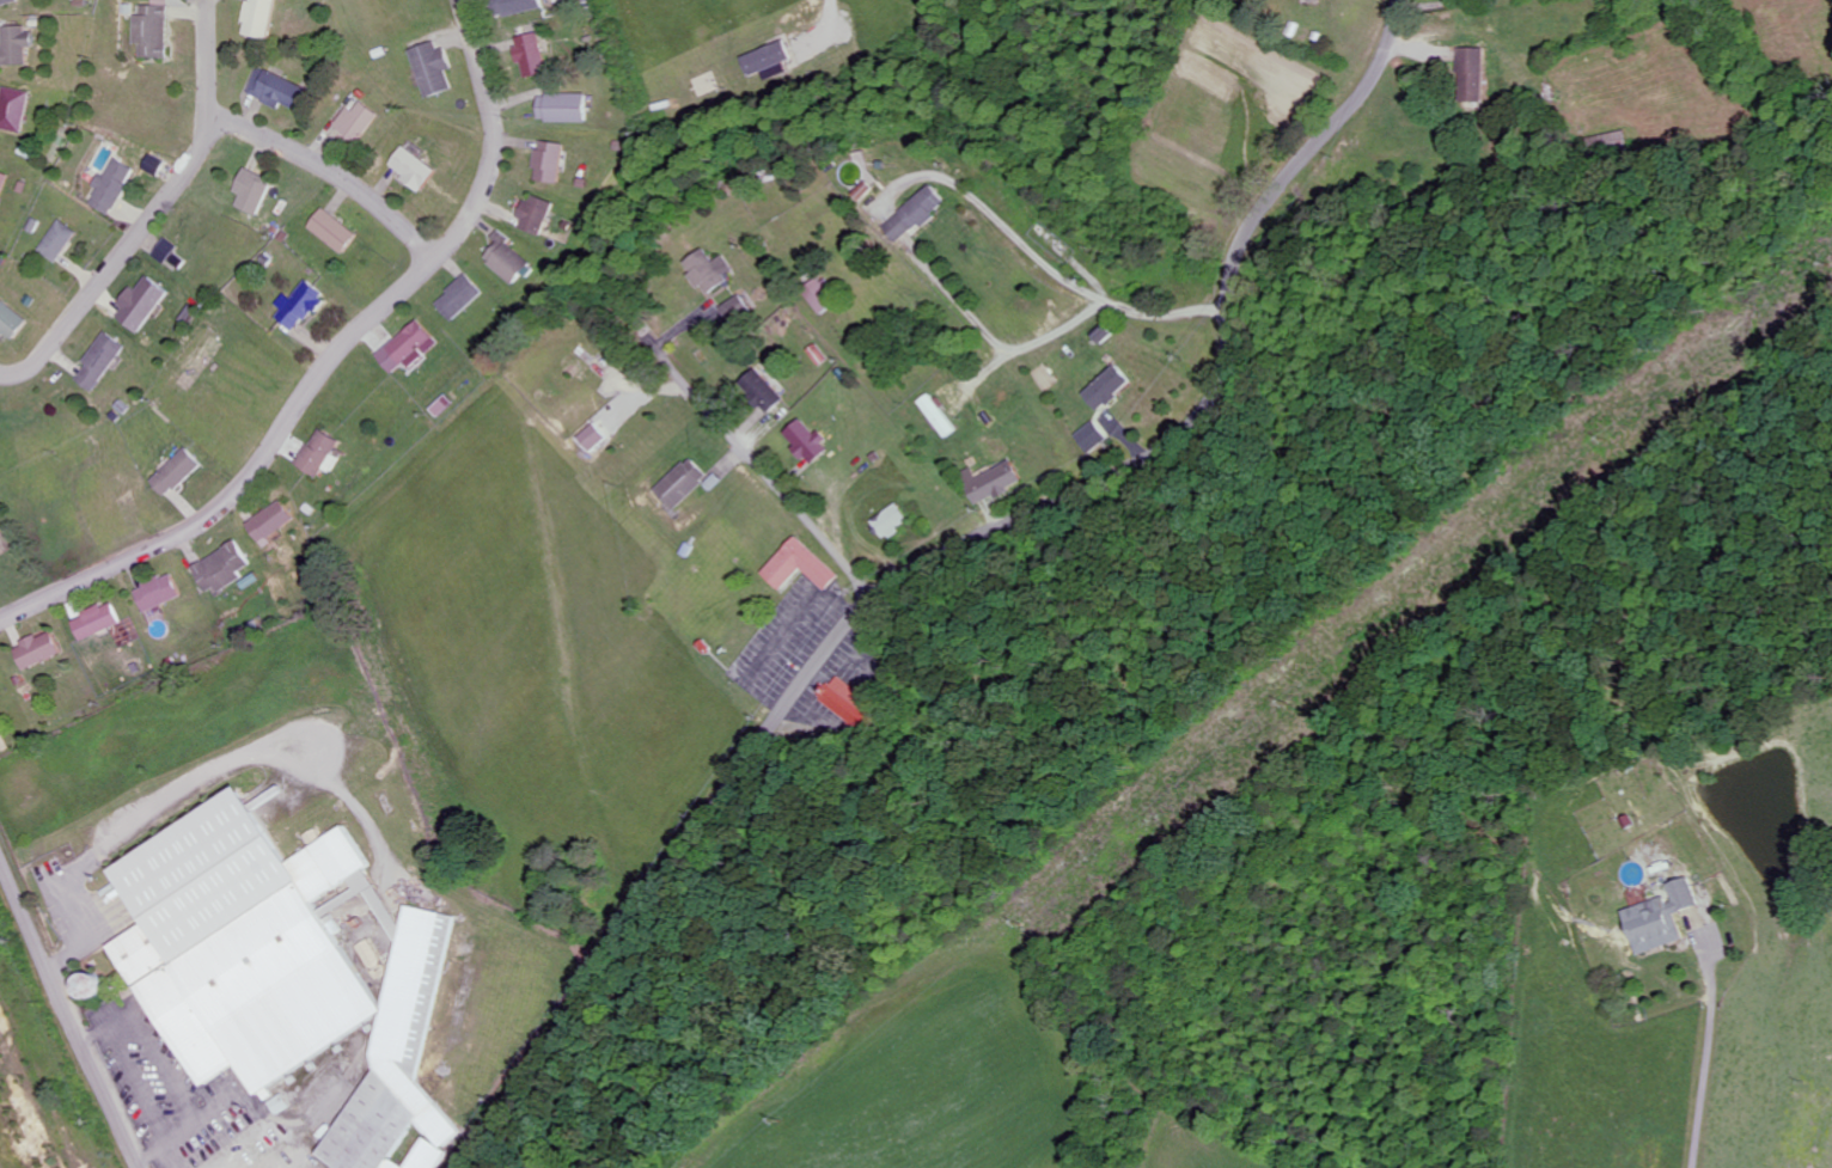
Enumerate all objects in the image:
building: (8, 2)
building: (519, 7)
building: (261, 19)
building: (153, 30)
building: (17, 45)
building: (532, 55)
road: (206, 57)
building: (768, 59)
building: (434, 69)
building: (1477, 77)
building: (277, 91)
building: (564, 109)
building: (14, 110)
building: (359, 122)
road: (491, 135)
building: (550, 163)
building: (154, 165)
road: (331, 169)
building: (415, 170)
building: (4, 184)
building: (111, 186)
building: (254, 192)
building: (536, 215)
building: (920, 215)
building: (335, 231)
building: (59, 241)
building: (166, 251)
road: (117, 257)
building: (508, 261)
building: (709, 271)
road: (942, 283)
building: (460, 299)
building: (143, 305)
building: (303, 308)
building: (738, 310)
road: (1159, 313)
building: (11, 322)
building: (409, 349)
building: (103, 362)
building: (1112, 387)
building: (765, 391)
building: (941, 416)
building: (1097, 436)
building: (594, 439)
building: (810, 441)
building: (322, 453)
building: (179, 472)
road: (763, 472)
road: (248, 476)
building: (996, 482)
building: (683, 483)
building: (897, 521)
building: (274, 522)
road: (939, 559)
building: (804, 565)
building: (225, 567)
building: (161, 592)
building: (78, 609)
building: (98, 620)
building: (38, 649)
building: (857, 703)
building: (1665, 917)
building: (286, 976)
building: (92, 985)
road: (69, 1013)
road: (1708, 1054)

